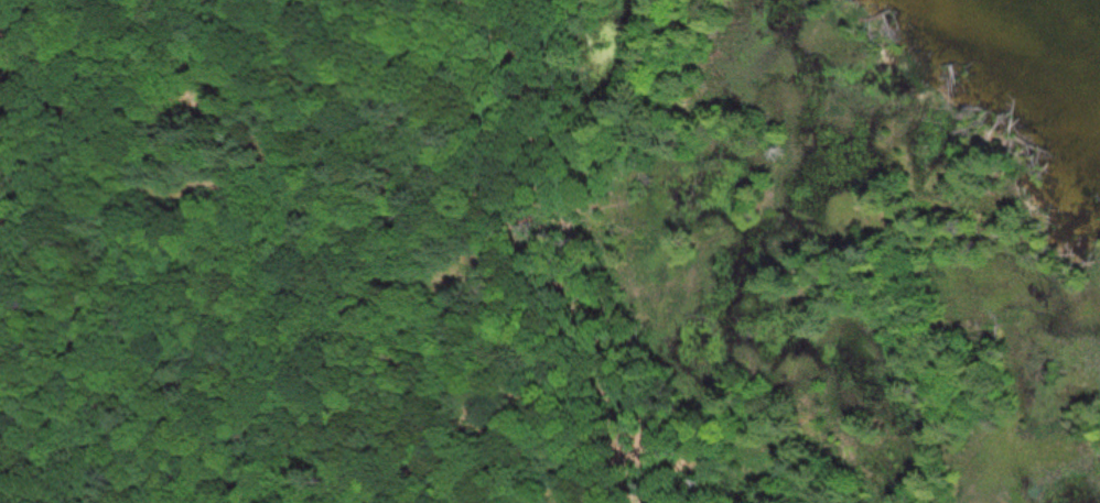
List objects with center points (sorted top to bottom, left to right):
park: (532, 258)

